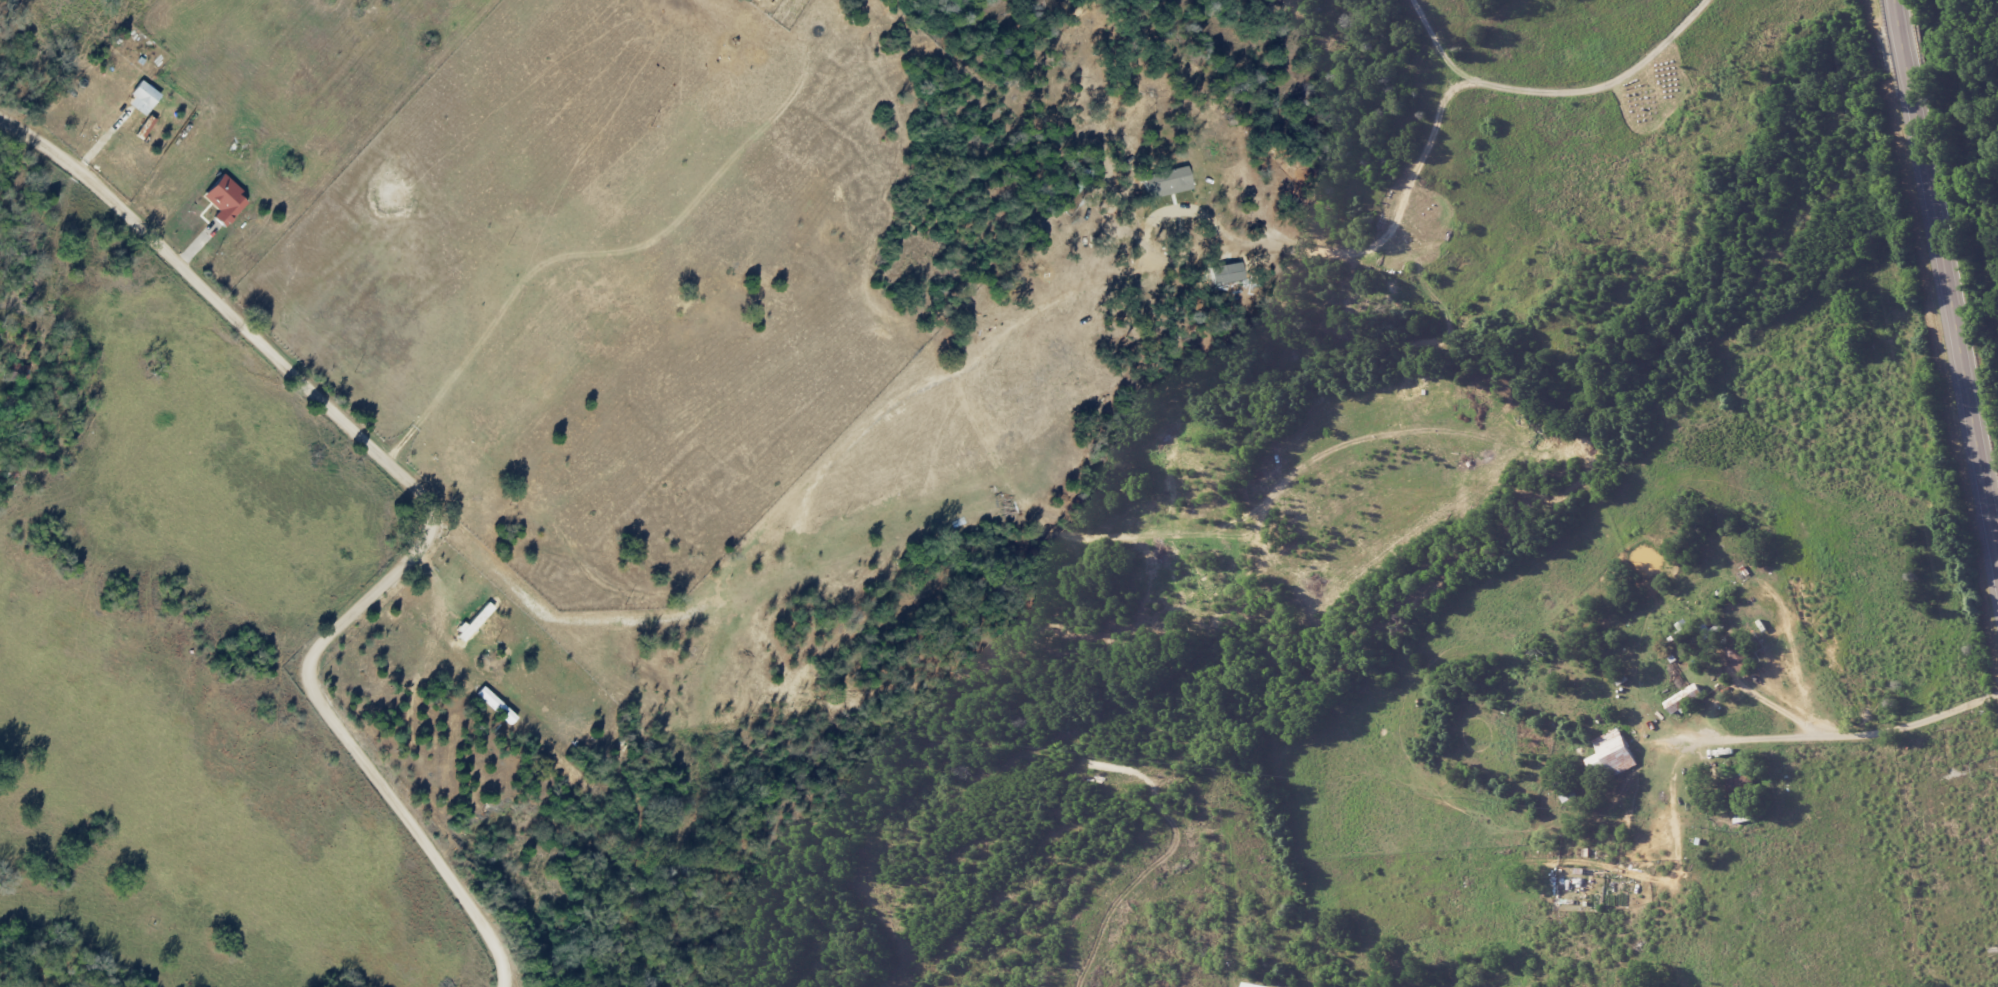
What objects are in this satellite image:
road: (1558, 90)
building: (151, 120)
building: (1169, 183)
building: (226, 200)
road: (1369, 249)
road: (1943, 285)
road: (432, 509)
building: (476, 622)
building: (1707, 632)
building: (1739, 657)
road: (486, 680)
building: (1685, 700)
building: (496, 706)
road: (1714, 708)
road: (1913, 723)
building: (1612, 755)
building: (1742, 785)
building: (1251, 985)

